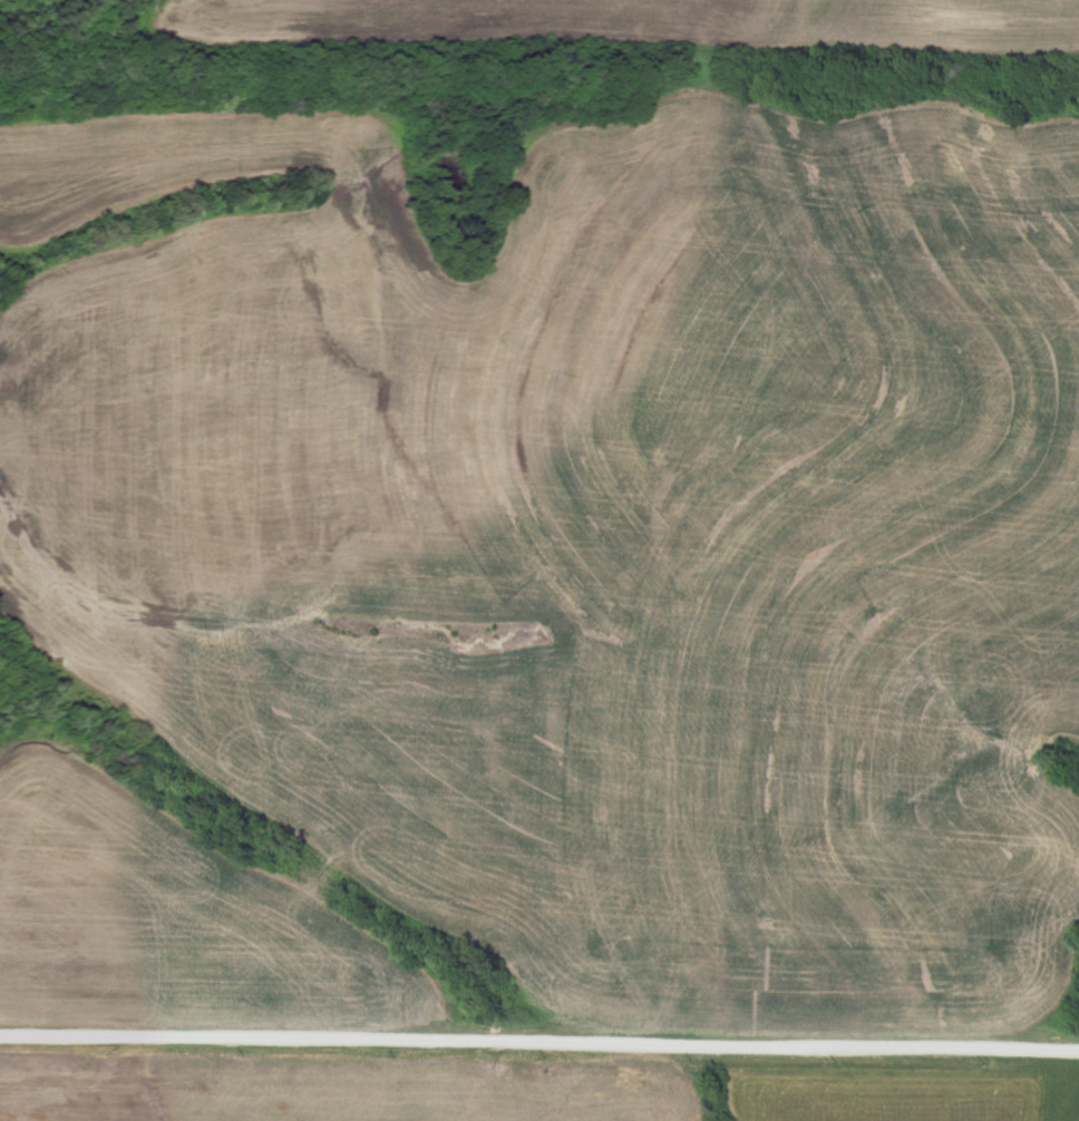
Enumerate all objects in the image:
road: (538, 1047)

